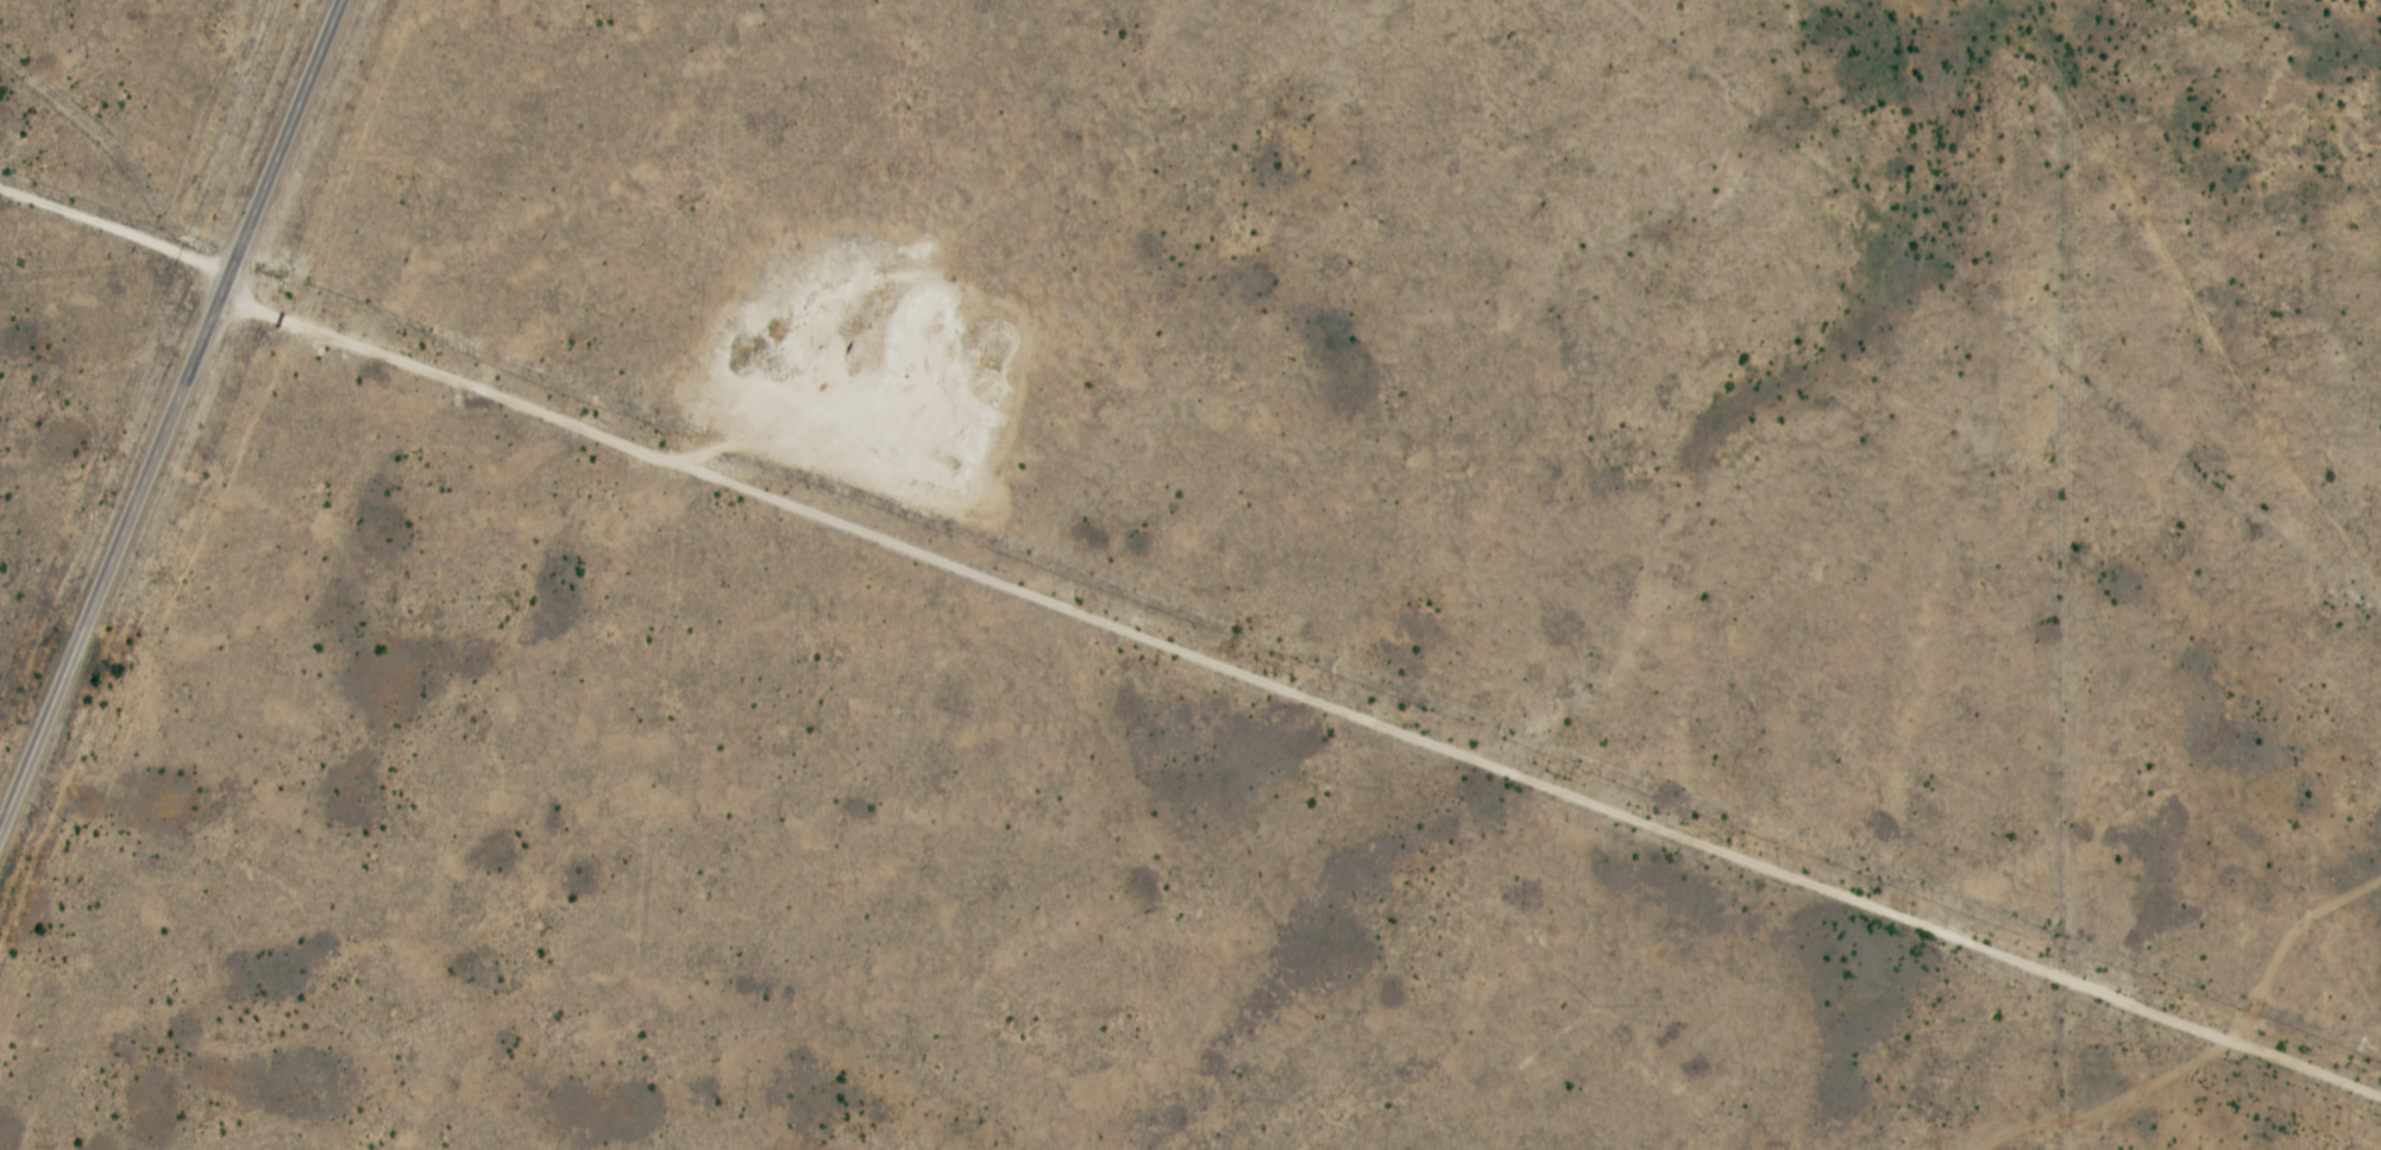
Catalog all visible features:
road: (171, 417)
road: (1150, 576)

